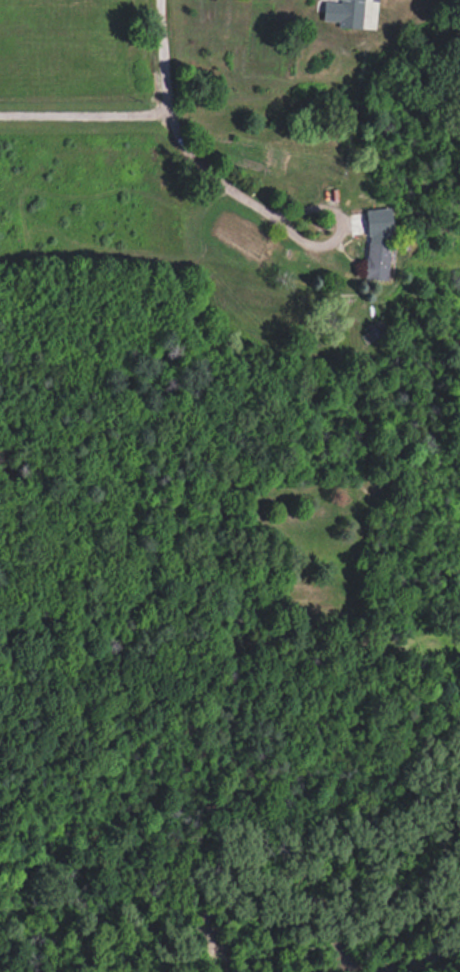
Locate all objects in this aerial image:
building: (344, 12)
road: (83, 113)
road: (173, 128)
road: (341, 224)
building: (377, 243)

